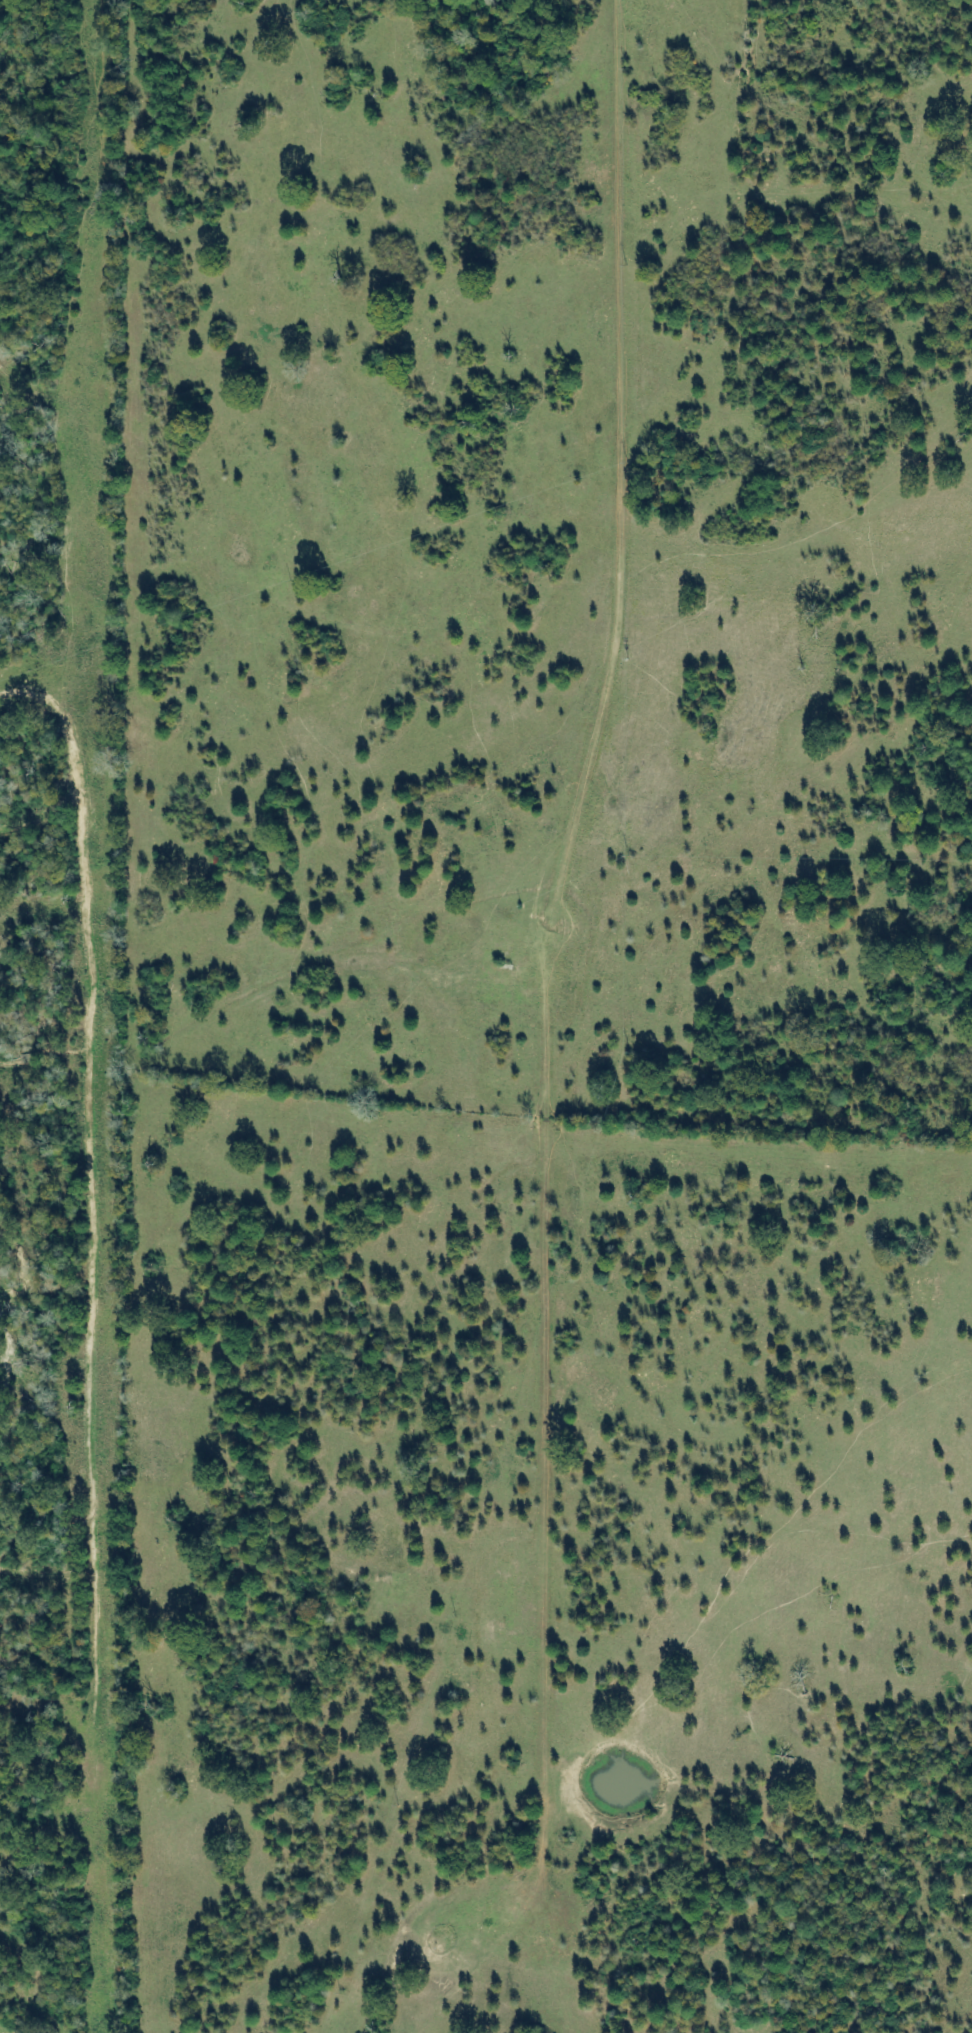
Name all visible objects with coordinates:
road: (557, 932)

